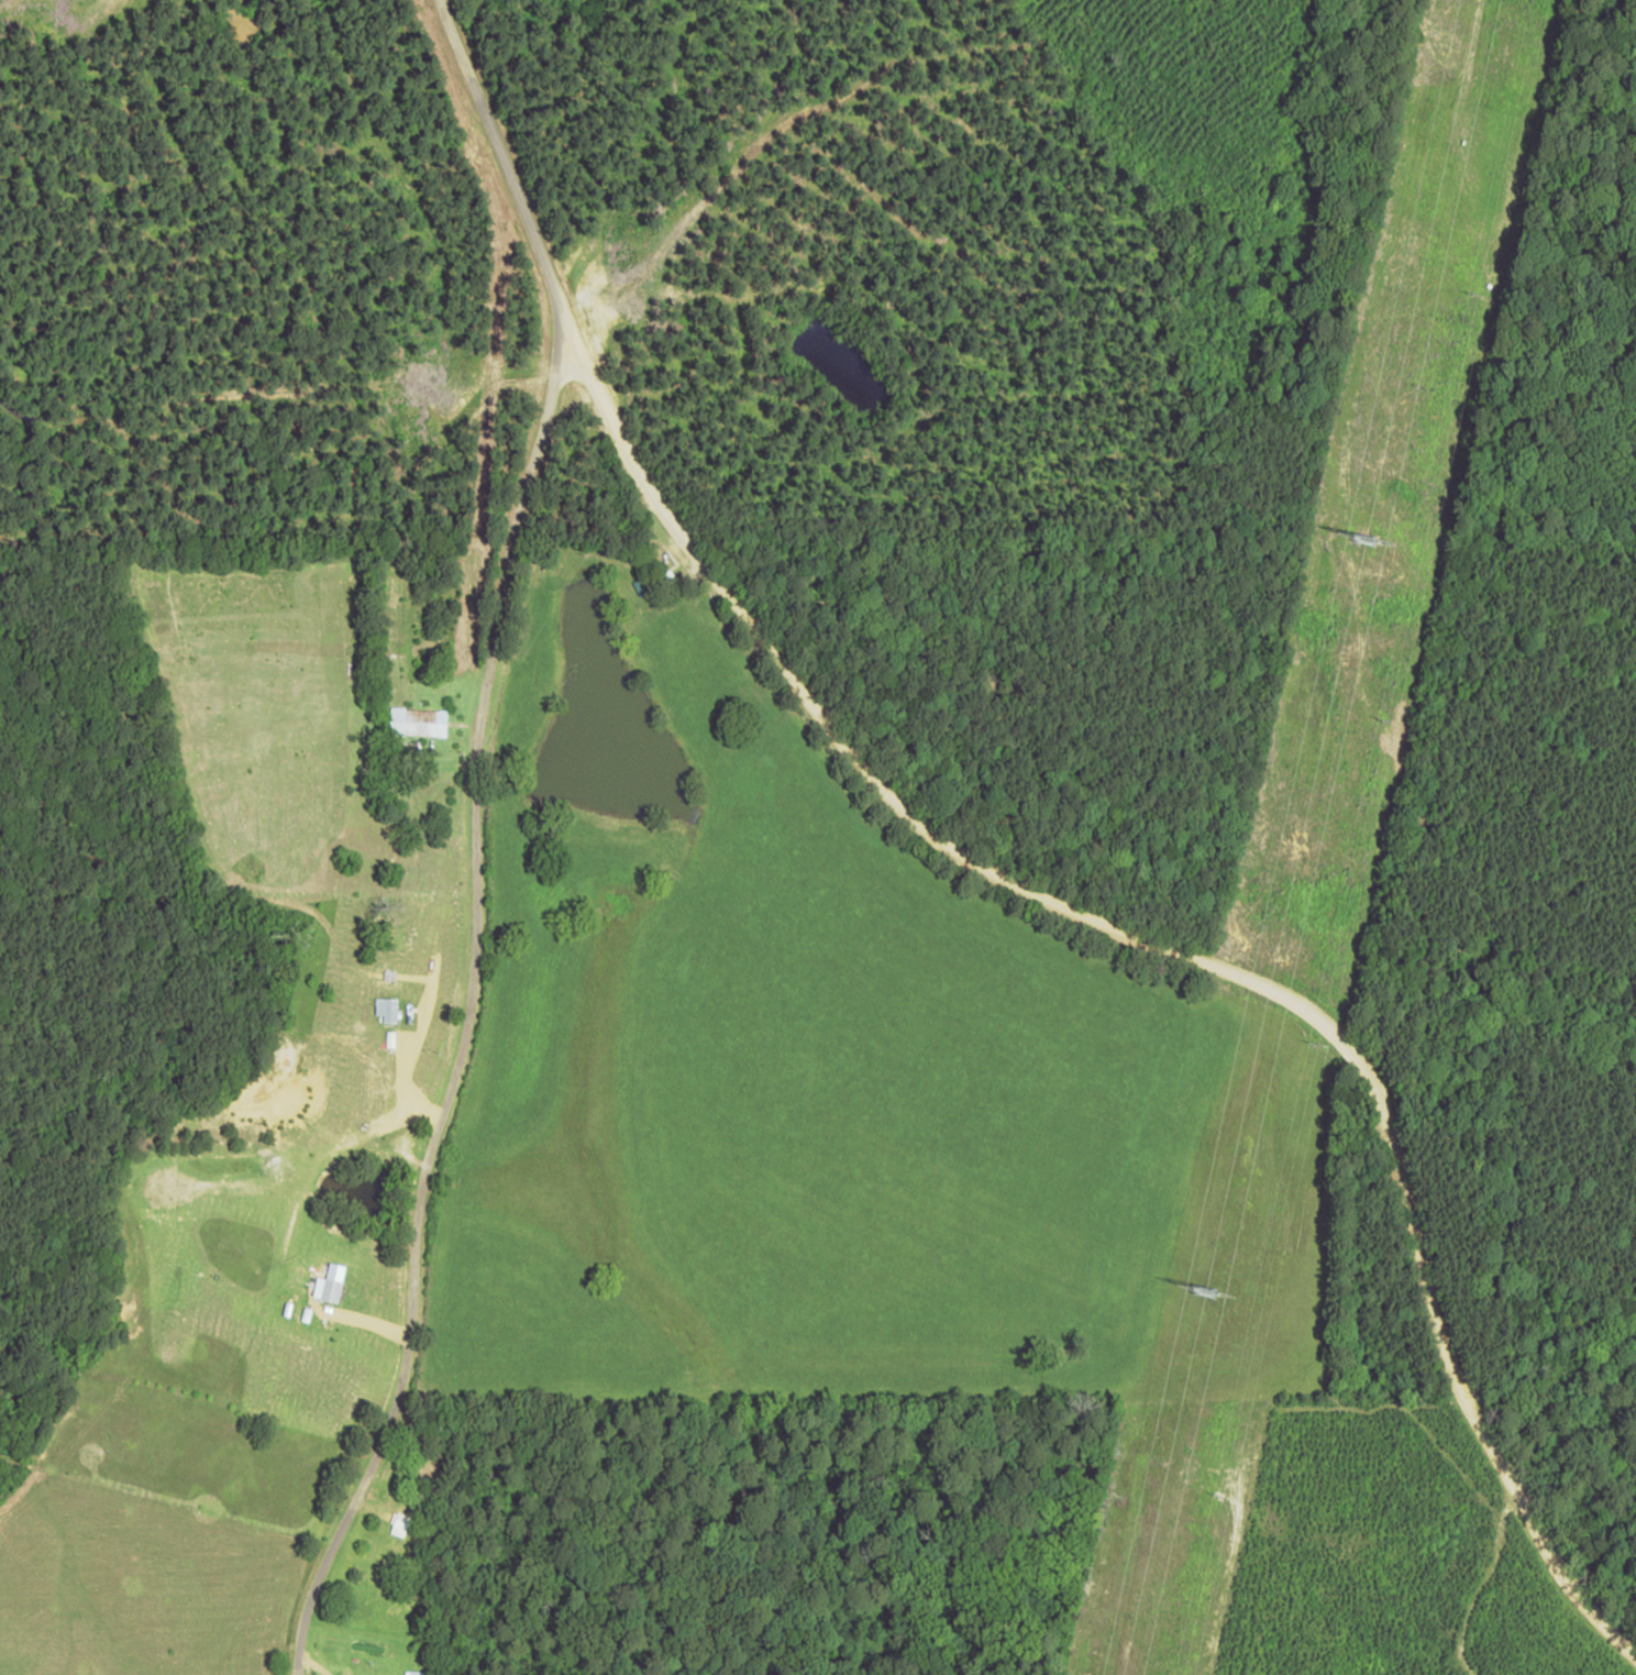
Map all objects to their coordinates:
power tower: (1356, 549)
building: (418, 723)
road: (504, 836)
road: (1200, 940)
building: (388, 1010)
building: (330, 1282)
power tower: (1197, 1296)
building: (400, 1523)

